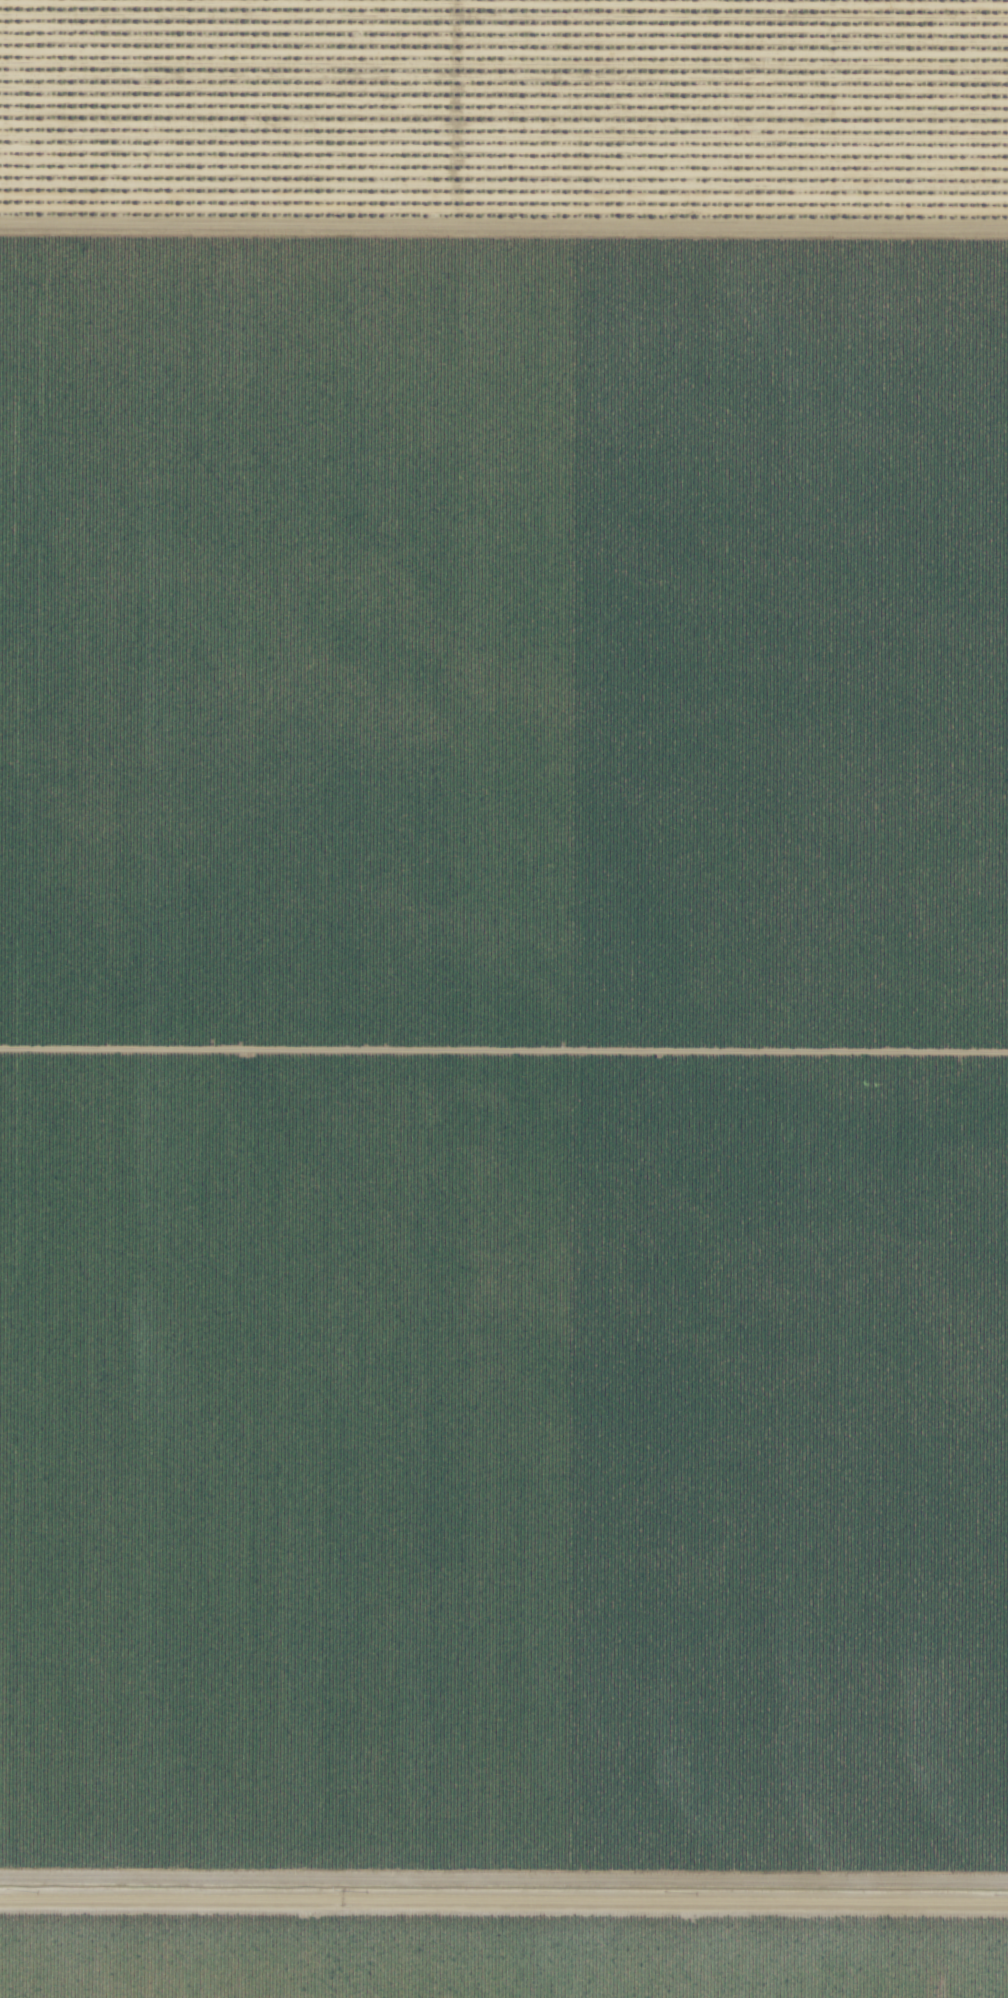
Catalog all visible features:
road: (504, 1903)

